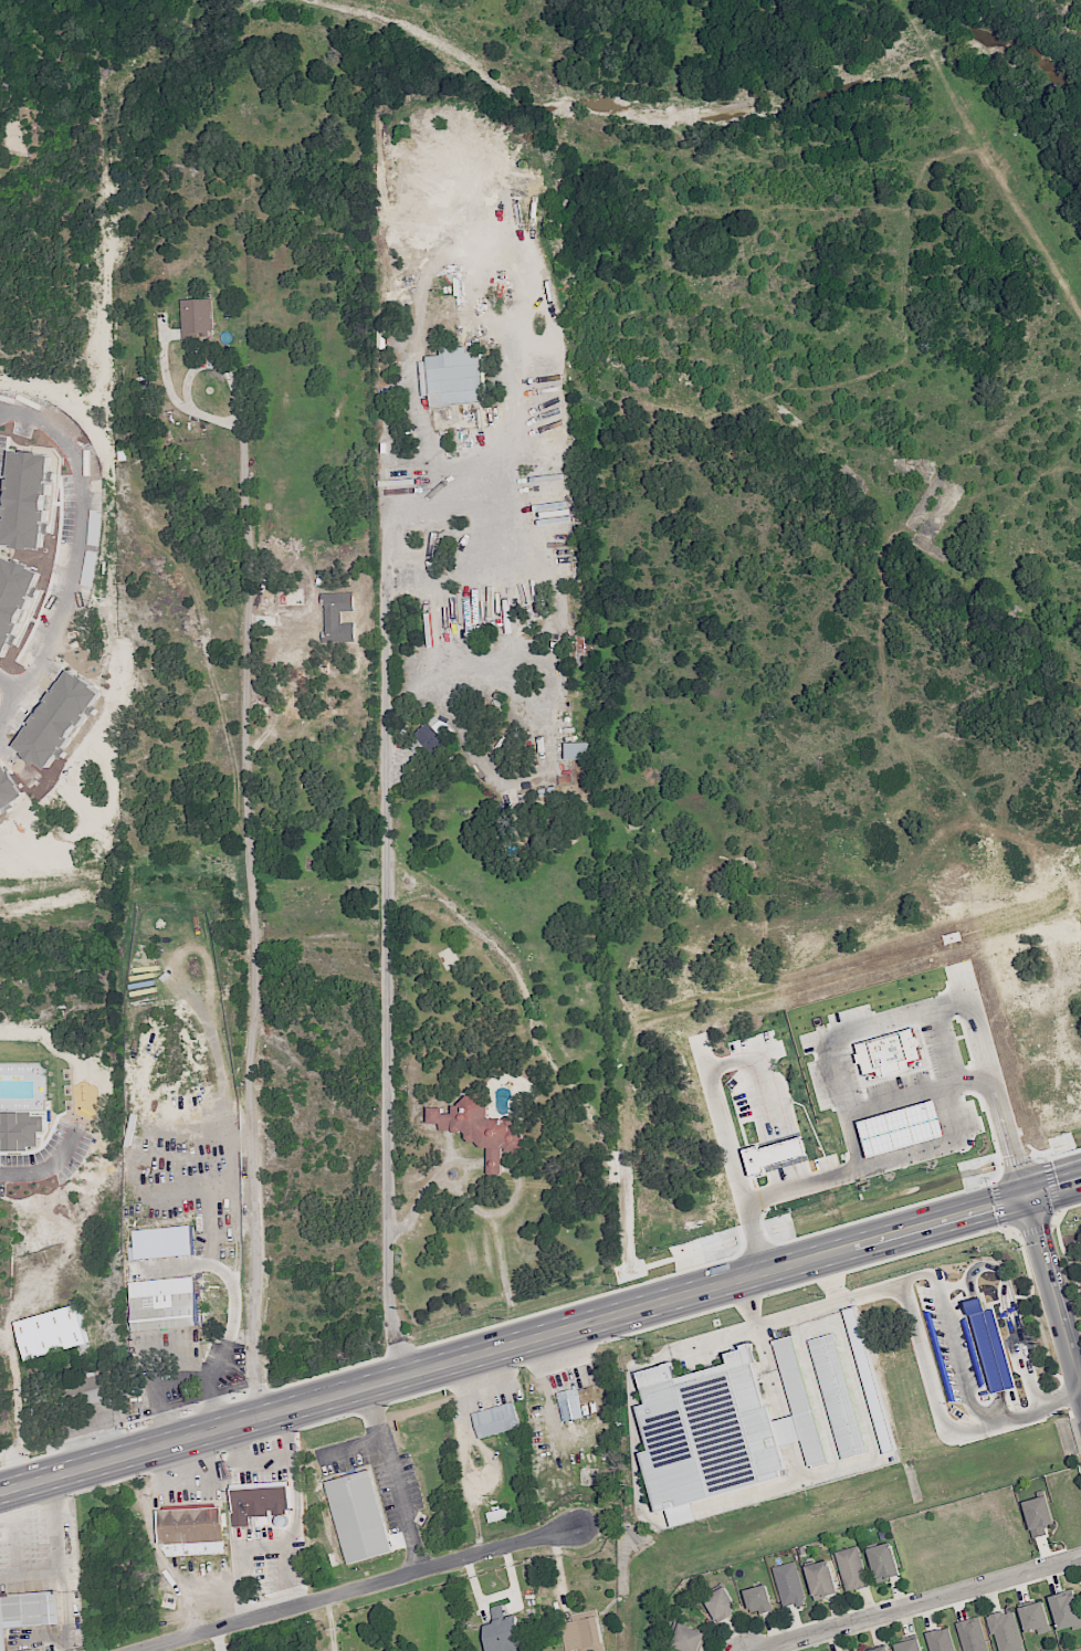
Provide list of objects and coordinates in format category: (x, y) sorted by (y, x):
building: (197, 319)
building: (452, 377)
road: (78, 551)
building: (288, 606)
road: (9, 686)
building: (435, 734)
building: (577, 749)
road: (17, 760)
road: (255, 922)
road: (388, 935)
road: (932, 1010)
road: (921, 1091)
road: (727, 1121)
building: (479, 1128)
road: (919, 1152)
road: (49, 1166)
road: (1051, 1188)
traffic signals: (1027, 1198)
road: (997, 1203)
road: (1061, 1209)
road: (483, 1211)
road: (1035, 1229)
road: (830, 1279)
road: (954, 1285)
road: (1053, 1294)
road: (993, 1301)
building: (162, 1303)
road: (539, 1311)
road: (913, 1331)
building: (51, 1332)
road: (620, 1336)
road: (540, 1337)
road: (166, 1342)
building: (989, 1345)
road: (988, 1354)
road: (1079, 1376)
road: (14, 1378)
building: (869, 1379)
building: (83, 1389)
building: (837, 1396)
building: (569, 1405)
road: (1003, 1412)
building: (495, 1419)
building: (720, 1429)
road: (348, 1447)
road: (267, 1454)
road: (280, 1461)
road: (206, 1478)
road: (390, 1481)
building: (263, 1498)
building: (1038, 1515)
building: (357, 1516)
road: (54, 1523)
building: (189, 1525)
road: (149, 1529)
road: (13, 1545)
building: (883, 1561)
building: (851, 1568)
building: (821, 1579)
road: (62, 1581)
building: (789, 1585)
road: (220, 1588)
road: (359, 1589)
building: (758, 1599)
building: (721, 1603)
road: (920, 1603)
building: (1064, 1609)
building: (28, 1611)
building: (1033, 1616)
road: (329, 1624)
building: (501, 1631)
building: (1006, 1631)
building: (583, 1632)
building: (972, 1634)
building: (686, 1638)
building: (940, 1640)
building: (909, 1645)
building: (28, 1650)

